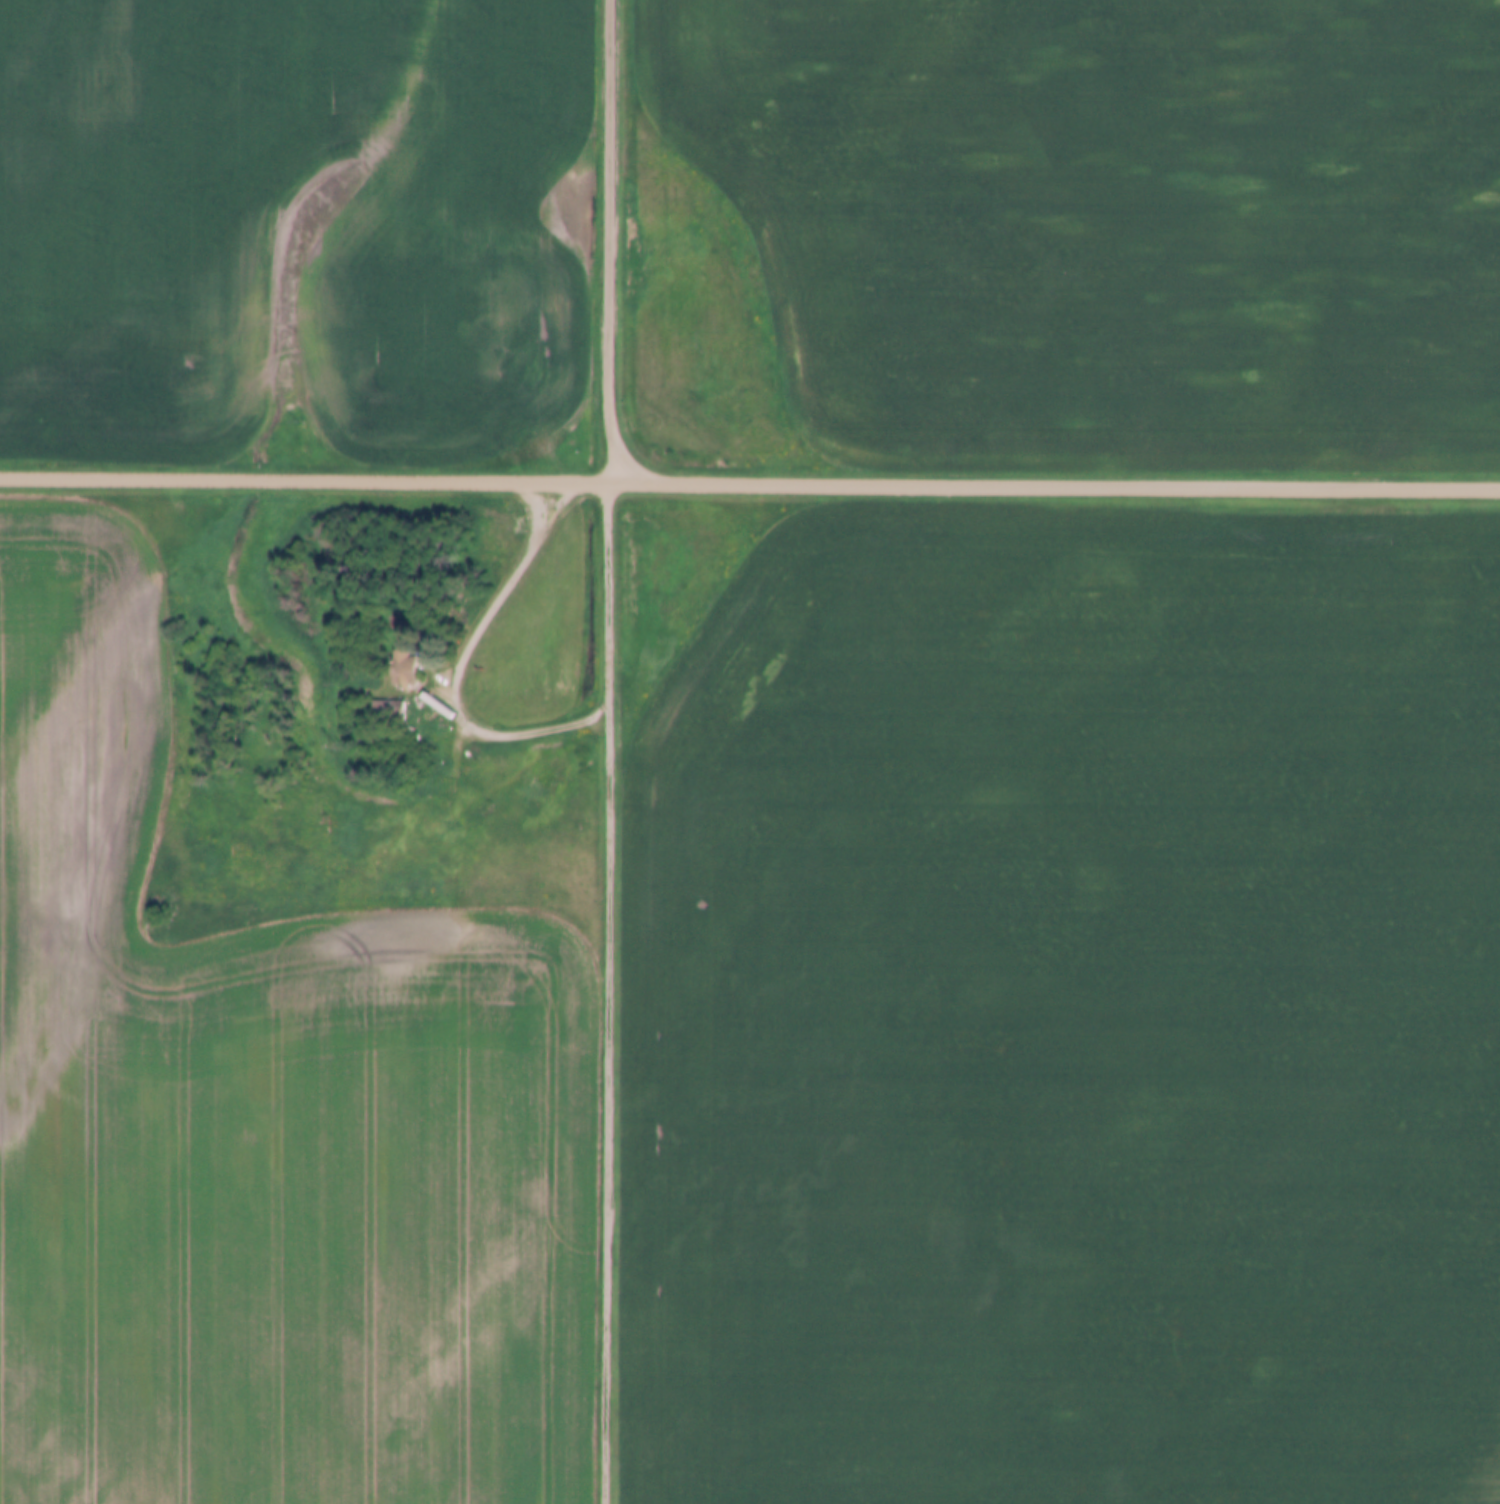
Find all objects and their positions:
road: (614, 238)
road: (750, 478)
road: (613, 585)
building: (405, 665)
road: (463, 666)
road: (611, 1098)

